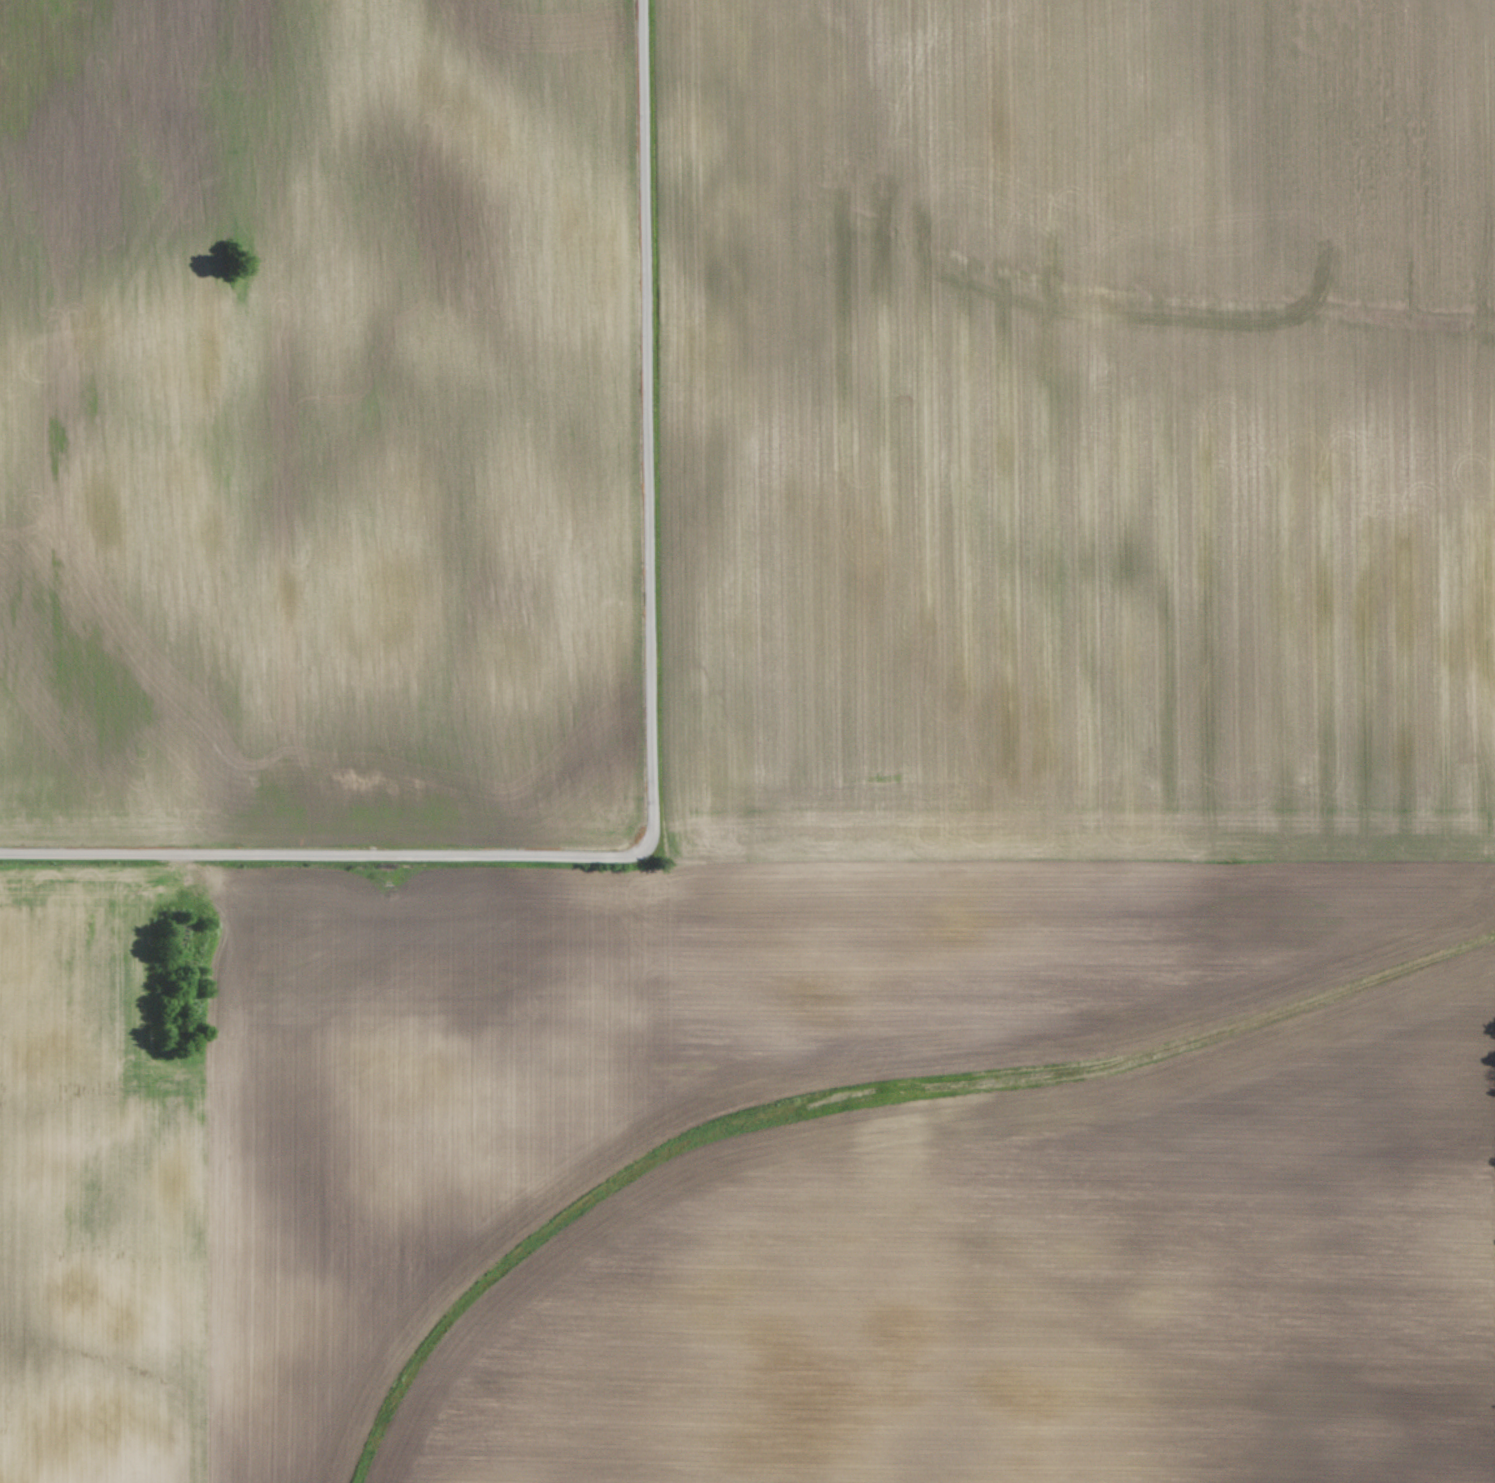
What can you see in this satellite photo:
road: (644, 424)
road: (322, 856)

